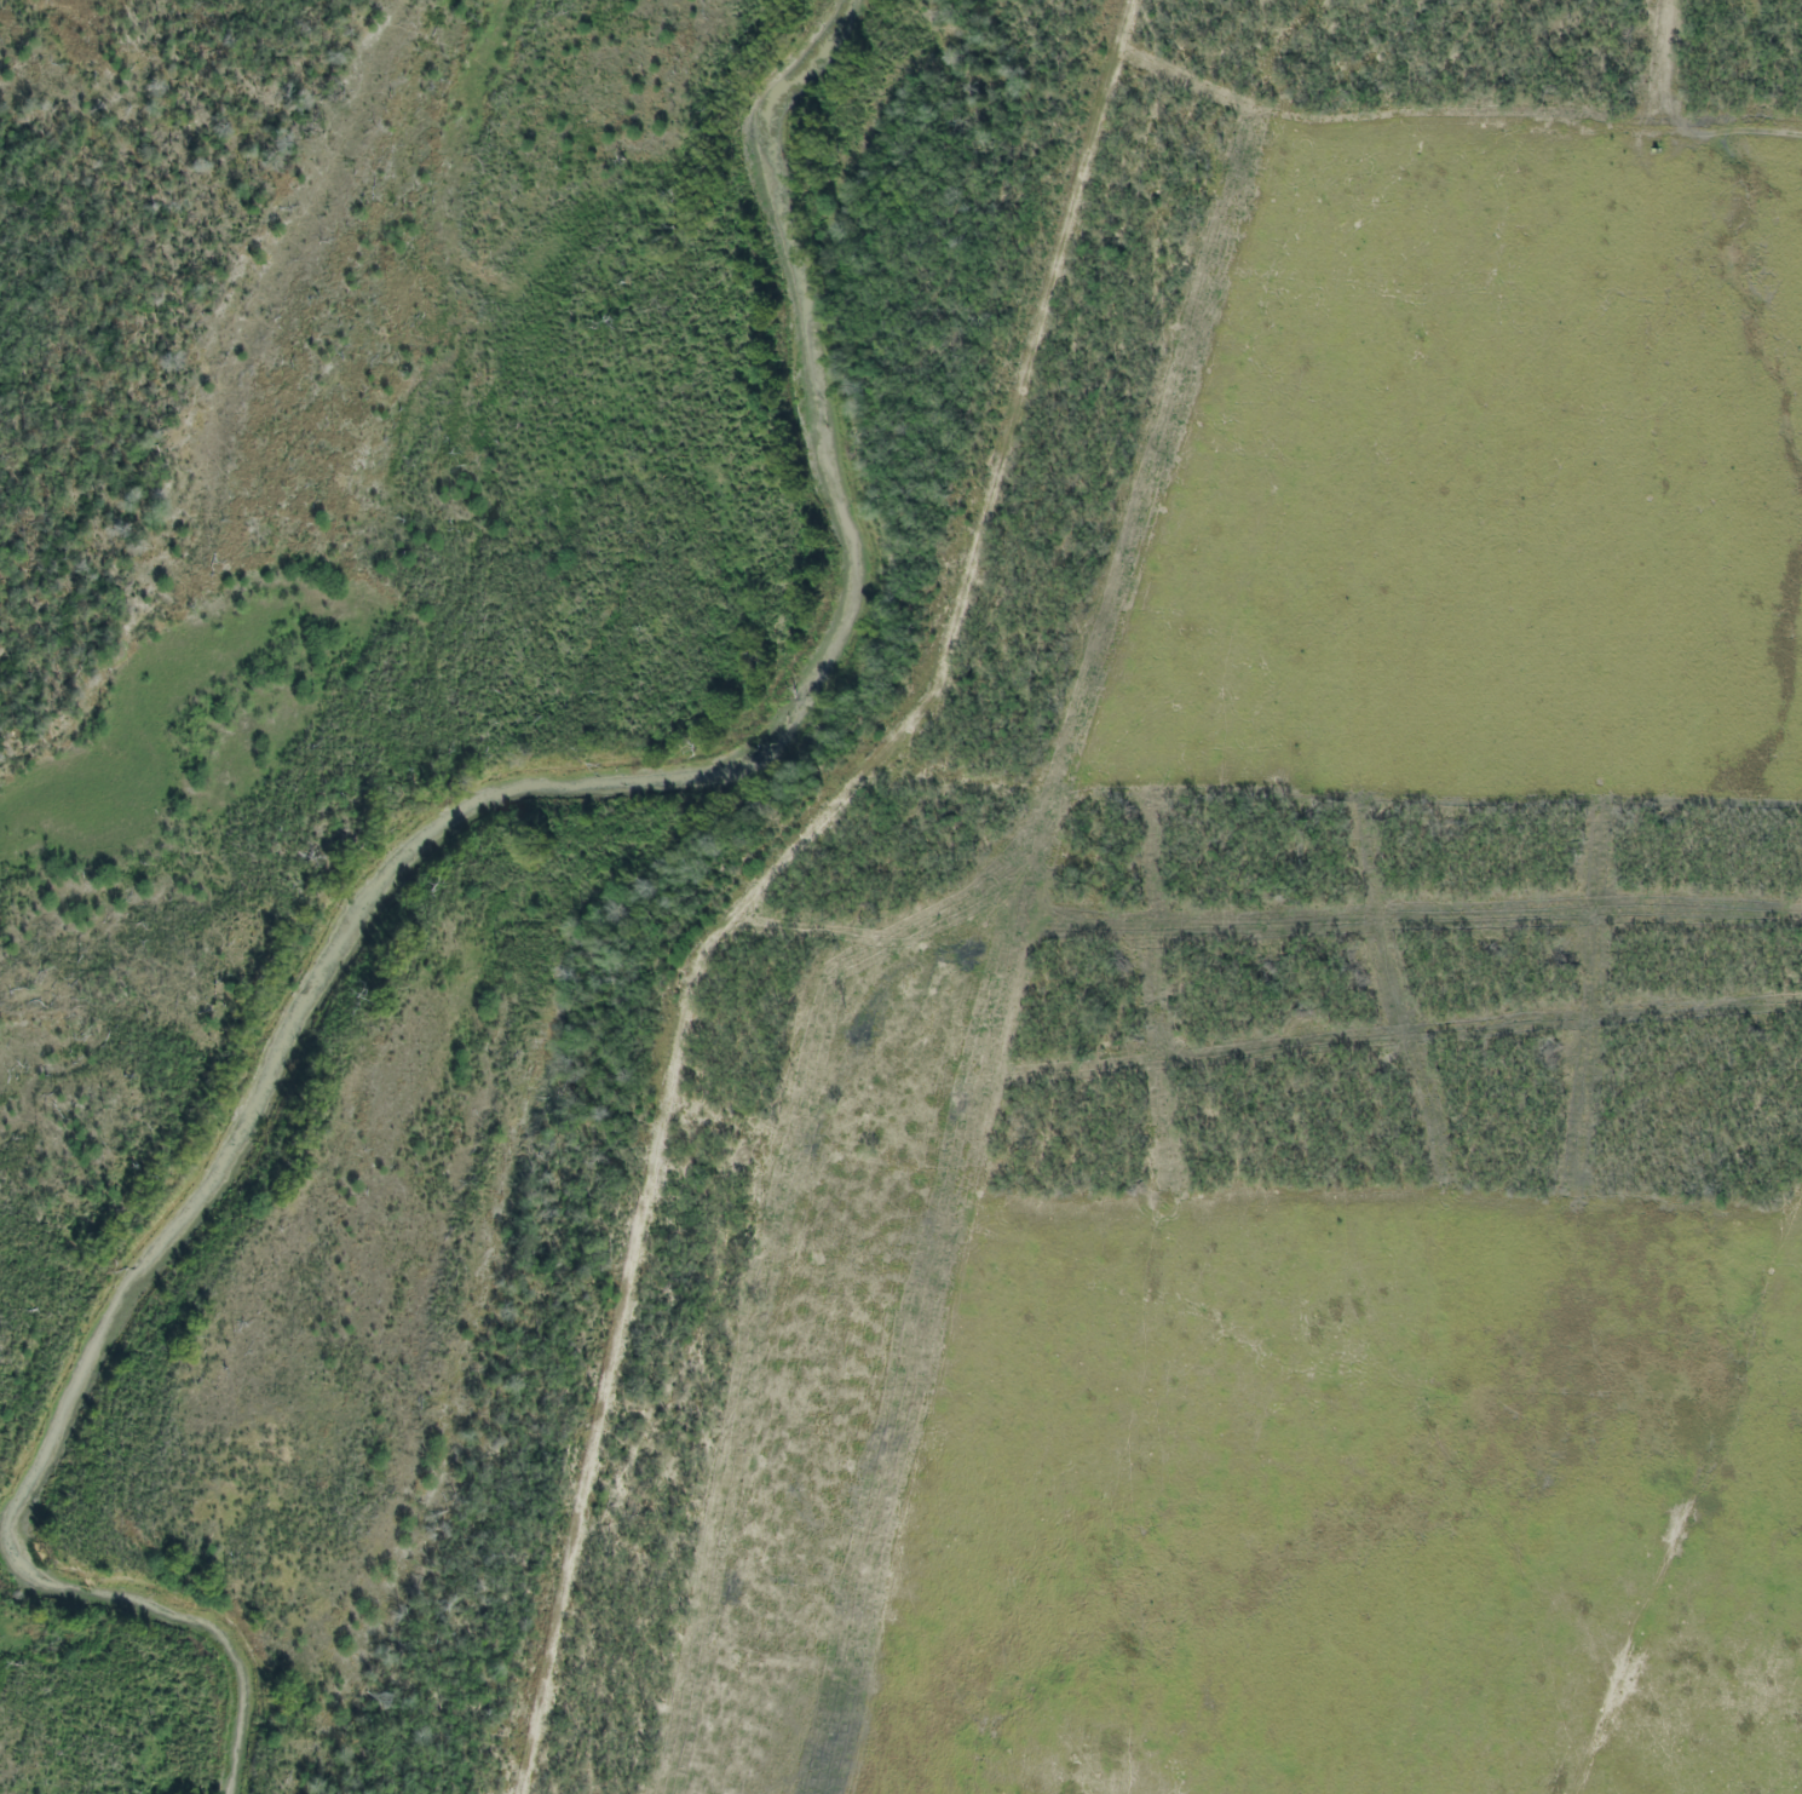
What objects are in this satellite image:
river: (443, 844)
road: (759, 905)

